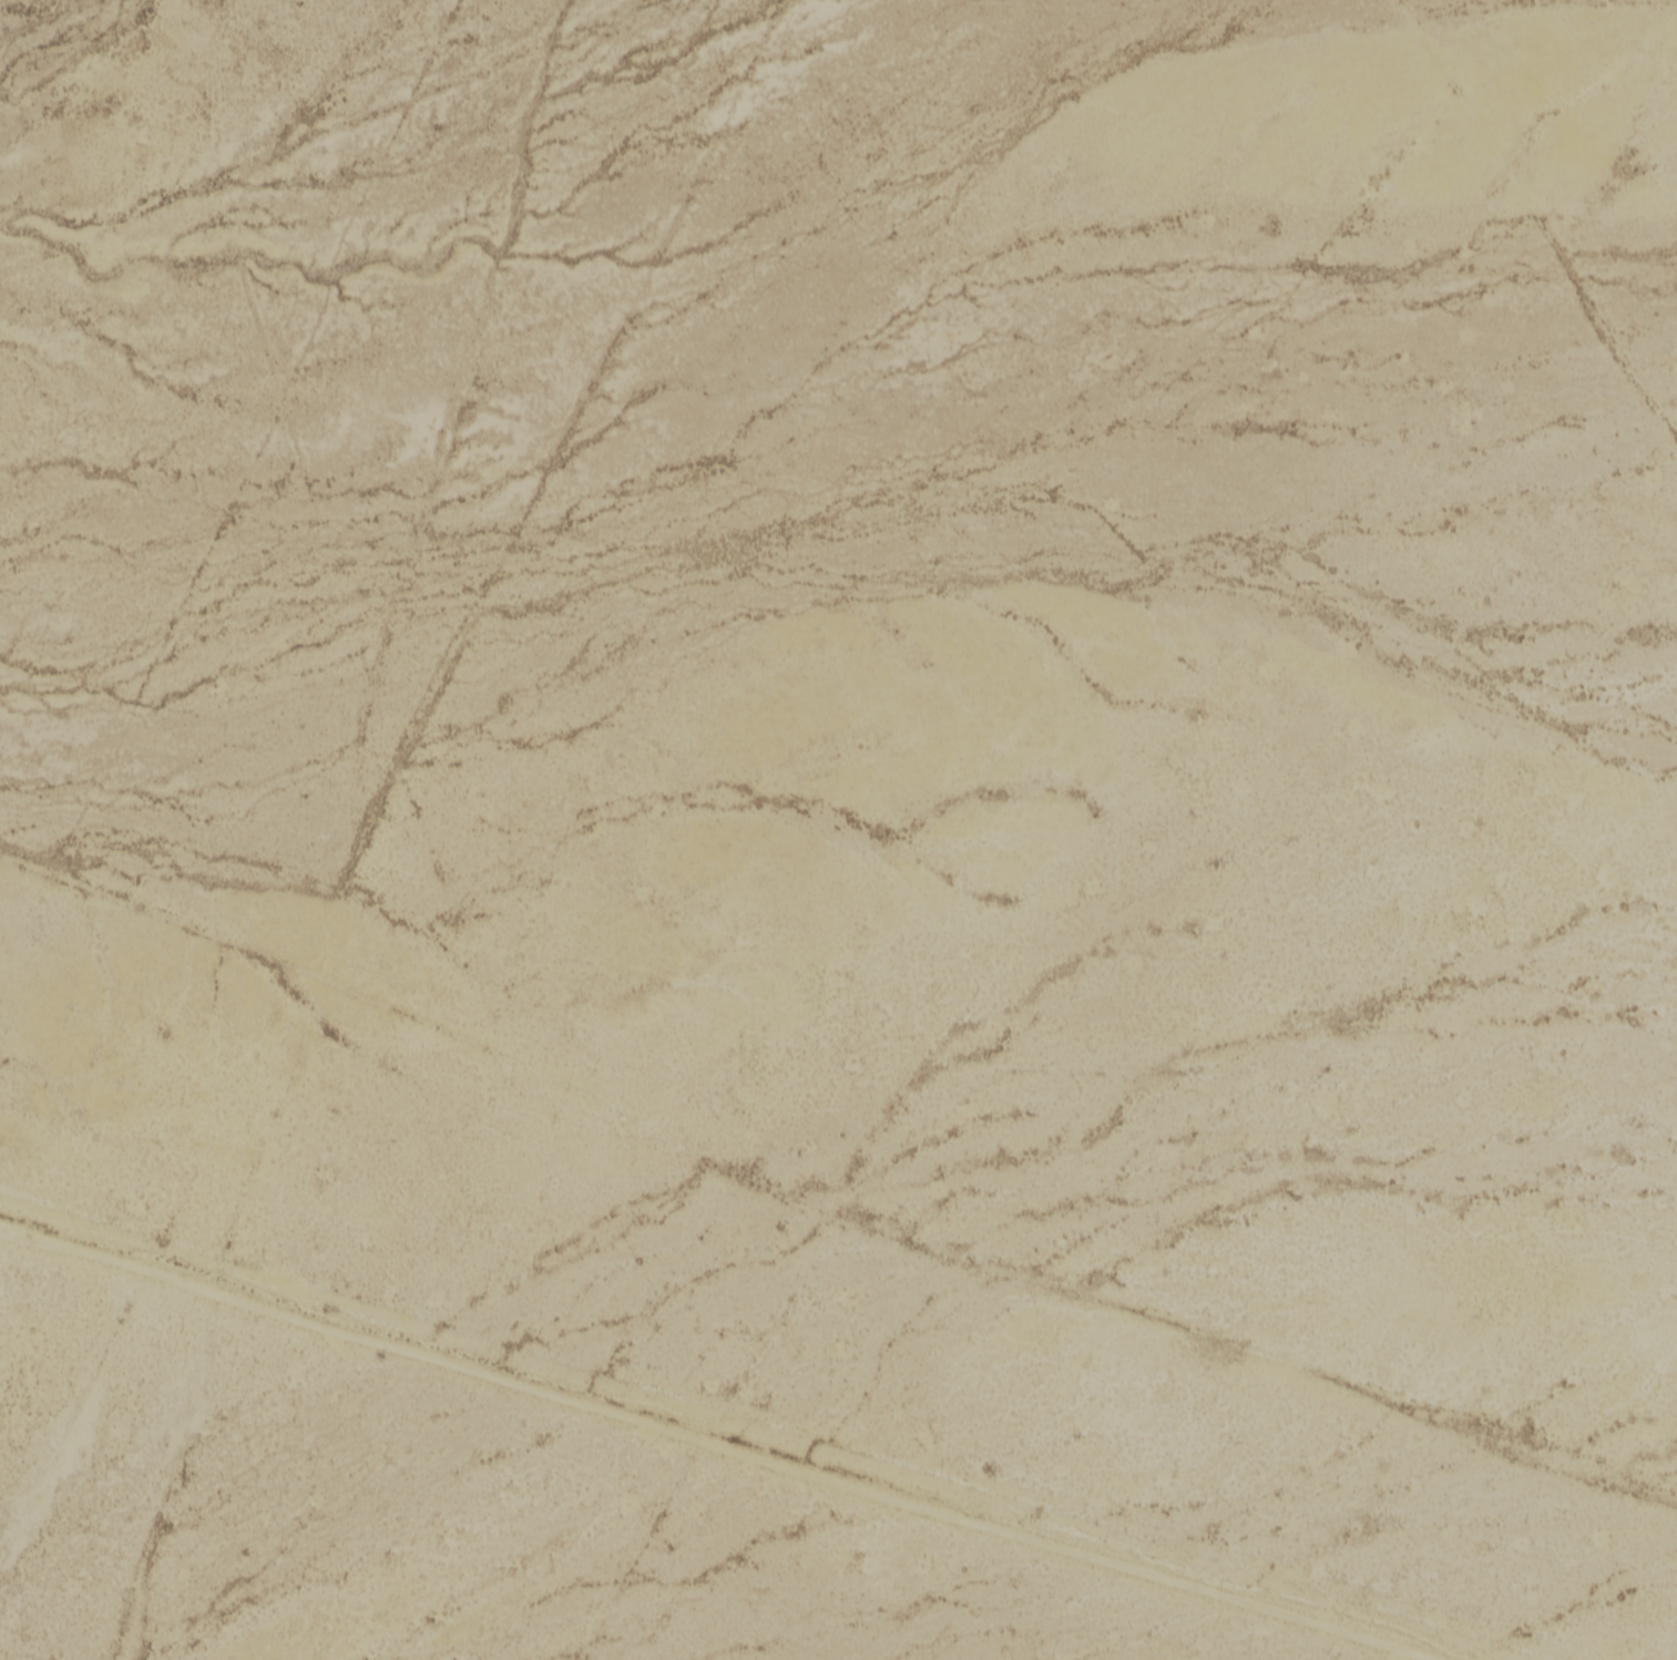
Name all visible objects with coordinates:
road: (1541, 206)
road: (740, 1436)

